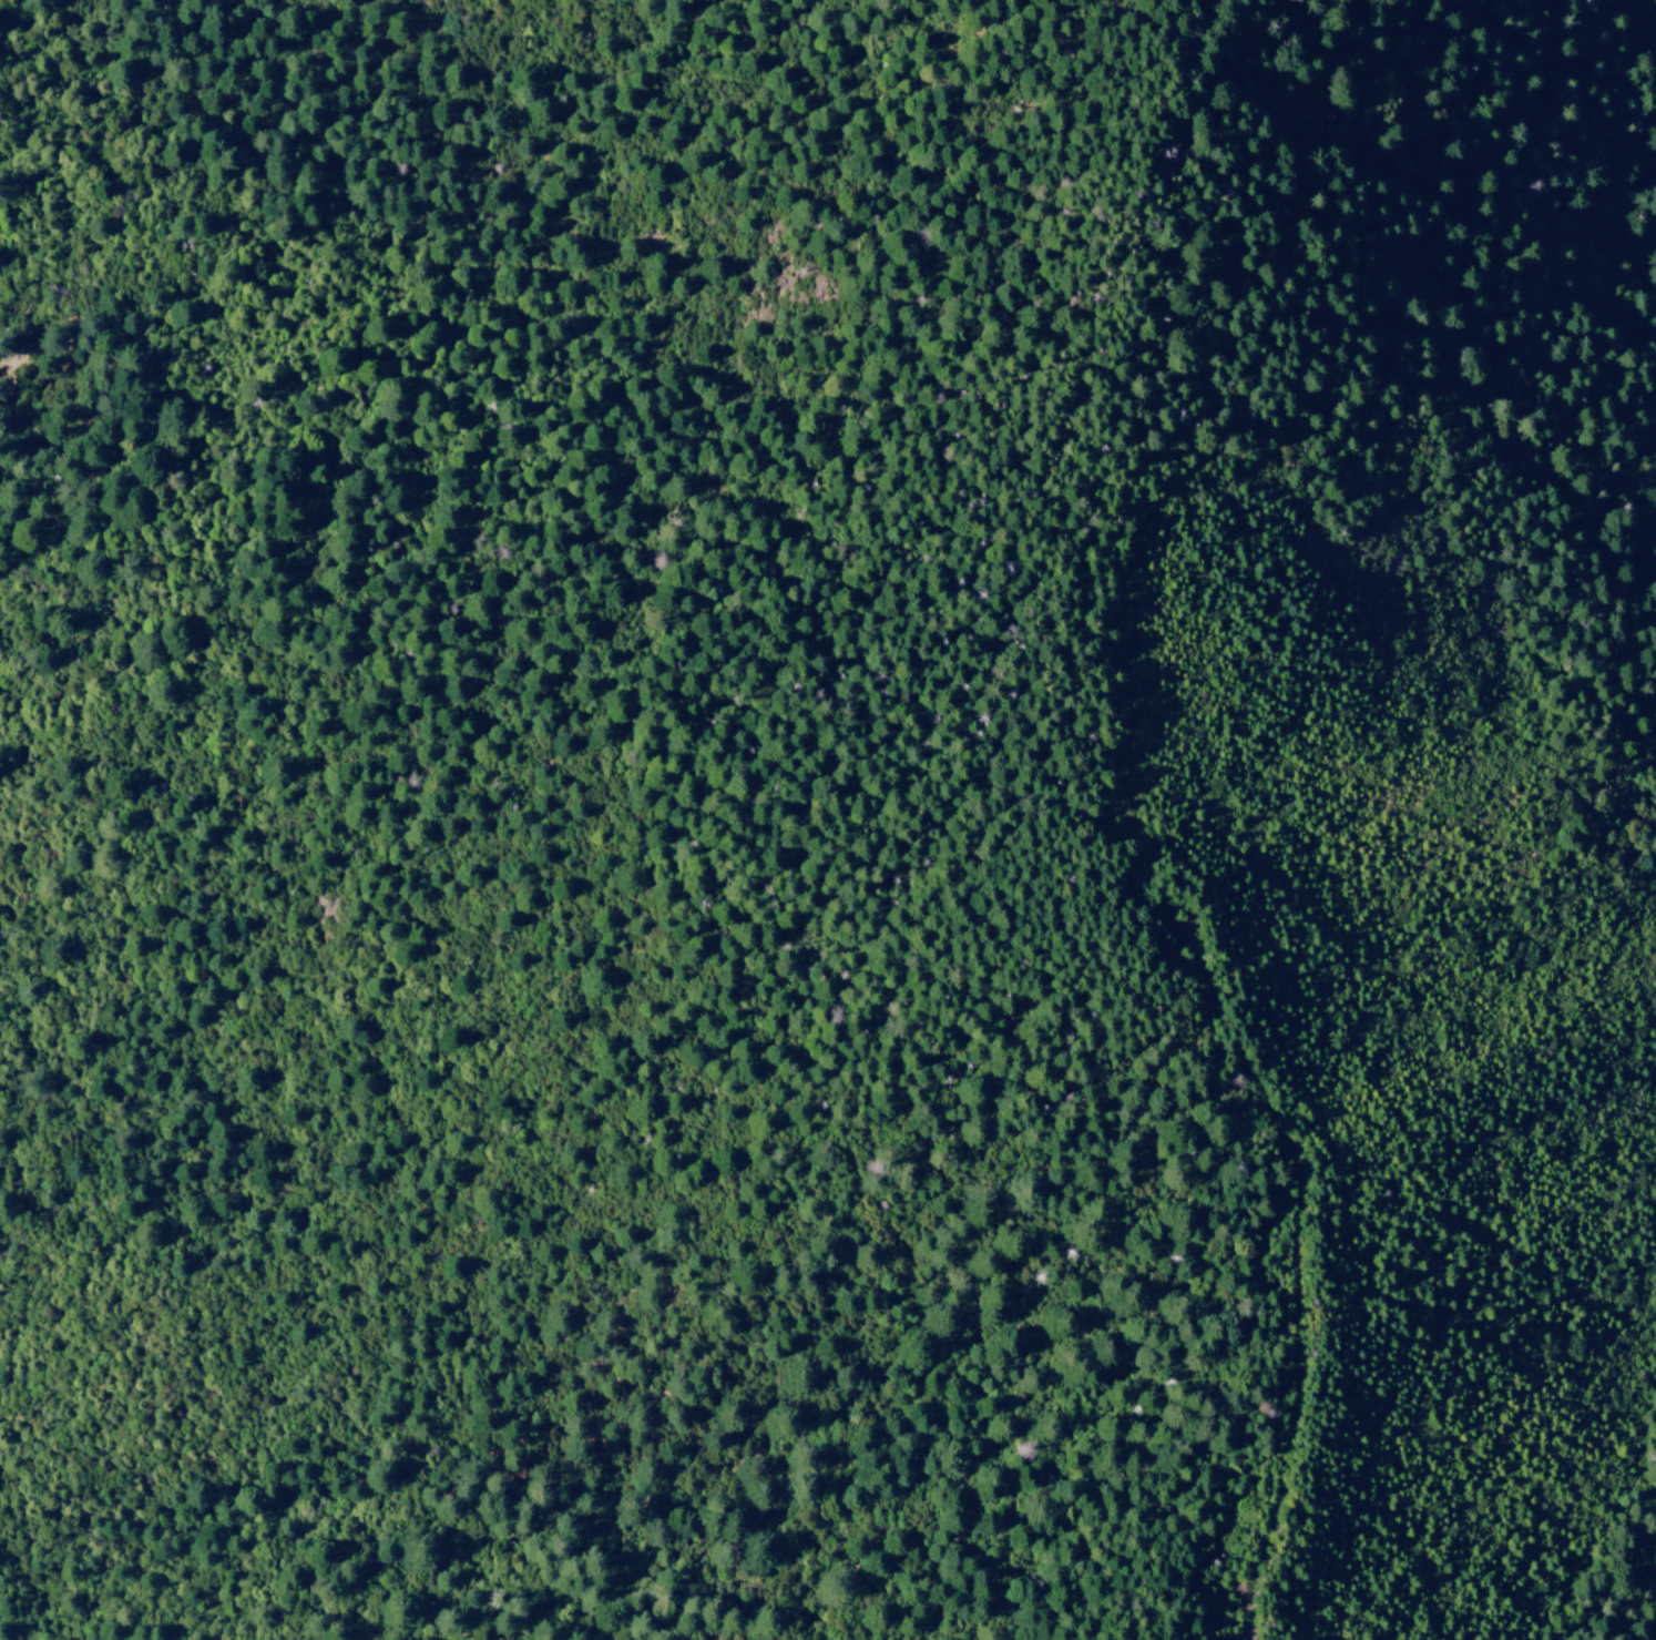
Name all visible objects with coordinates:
road: (1250, 1628)

